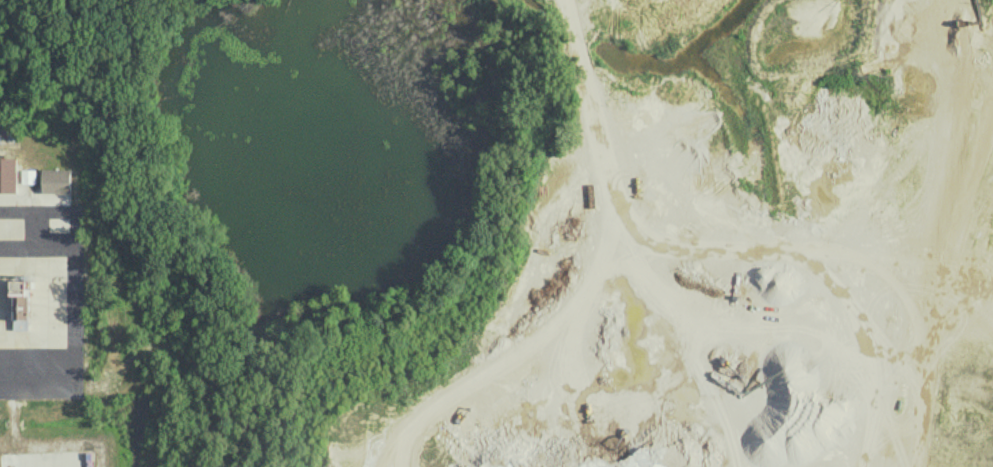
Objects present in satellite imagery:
building: (8, 174)
building: (28, 175)
building: (56, 180)
road: (72, 290)

